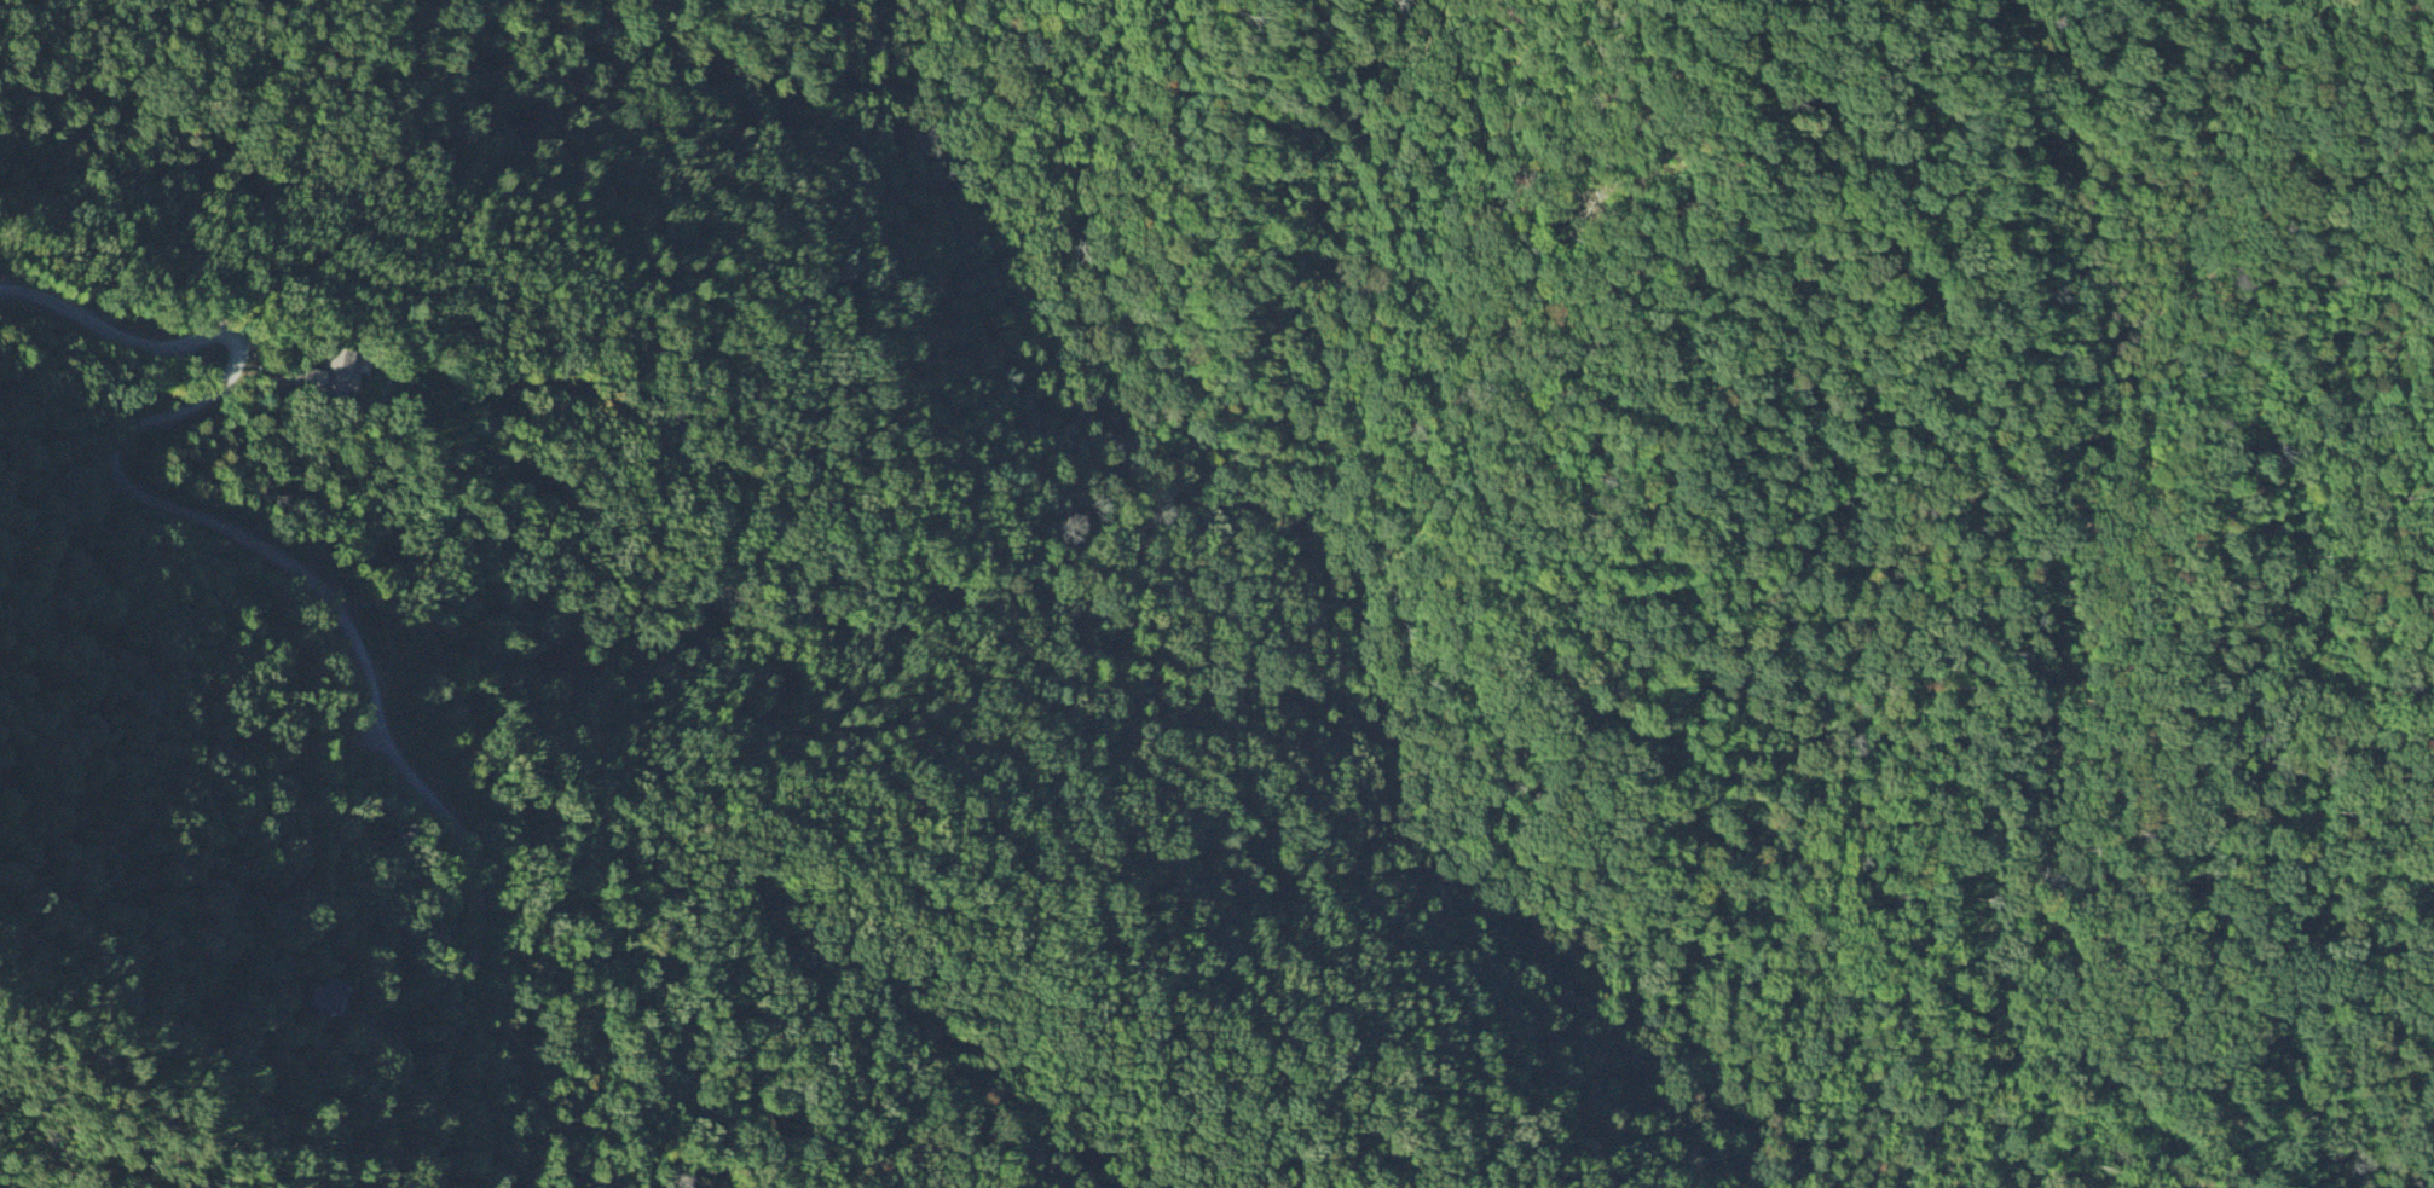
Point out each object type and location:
road: (299, 583)
road: (336, 1137)

